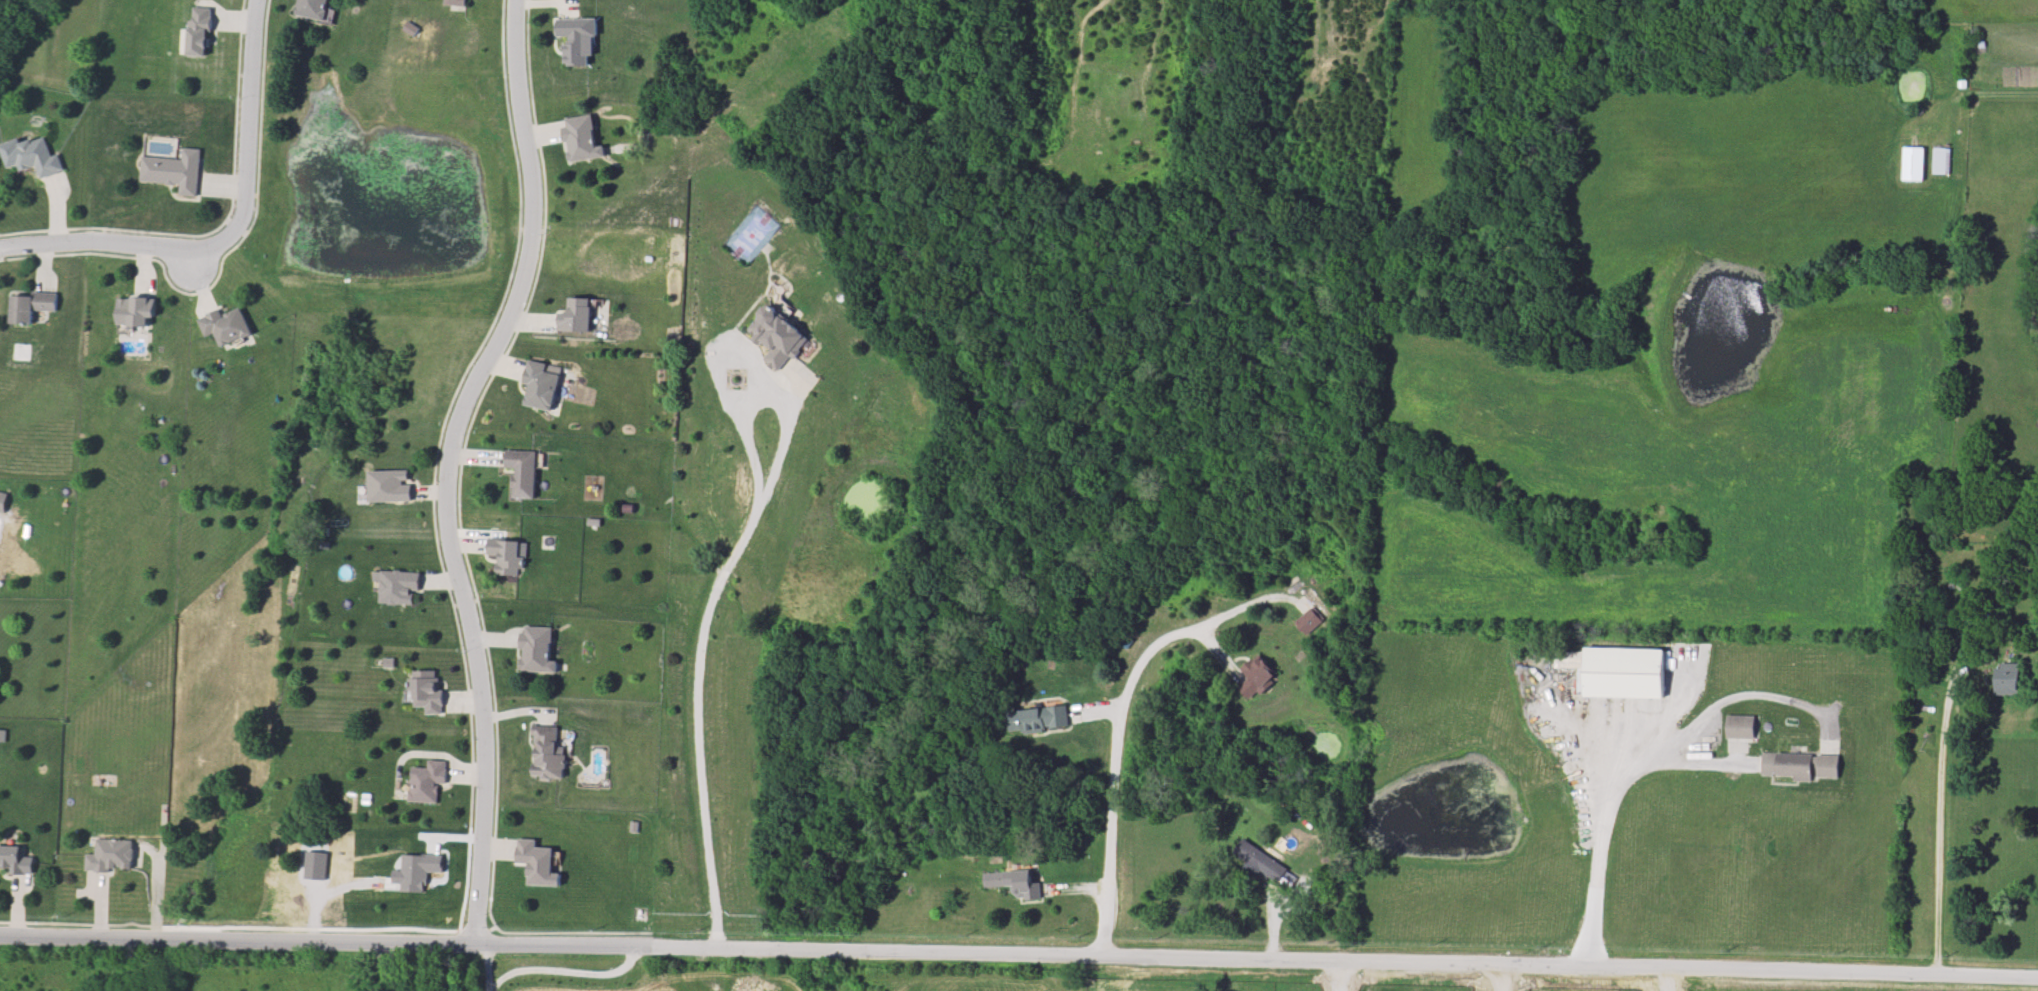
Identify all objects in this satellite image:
building: (464, 1)
building: (313, 6)
building: (408, 29)
building: (200, 30)
building: (578, 42)
road: (252, 120)
building: (582, 136)
building: (29, 159)
building: (1941, 161)
building: (1914, 164)
building: (170, 171)
road: (123, 250)
building: (137, 309)
building: (30, 312)
building: (576, 315)
building: (226, 324)
building: (776, 341)
road: (733, 349)
building: (540, 385)
road: (753, 416)
road: (450, 469)
building: (522, 474)
building: (388, 486)
building: (505, 557)
building: (400, 587)
building: (1310, 621)
building: (537, 649)
building: (387, 663)
building: (1624, 674)
building: (1257, 677)
building: (428, 692)
building: (1039, 720)
building: (1739, 726)
road: (699, 727)
building: (548, 751)
road: (1115, 765)
building: (1798, 765)
building: (427, 780)
road: (1935, 822)
building: (633, 827)
road: (1595, 838)
building: (109, 858)
building: (1262, 860)
building: (15, 862)
building: (536, 863)
building: (1011, 885)
road: (1018, 960)
road: (558, 970)
road: (486, 971)
road: (1337, 978)
road: (1496, 979)

